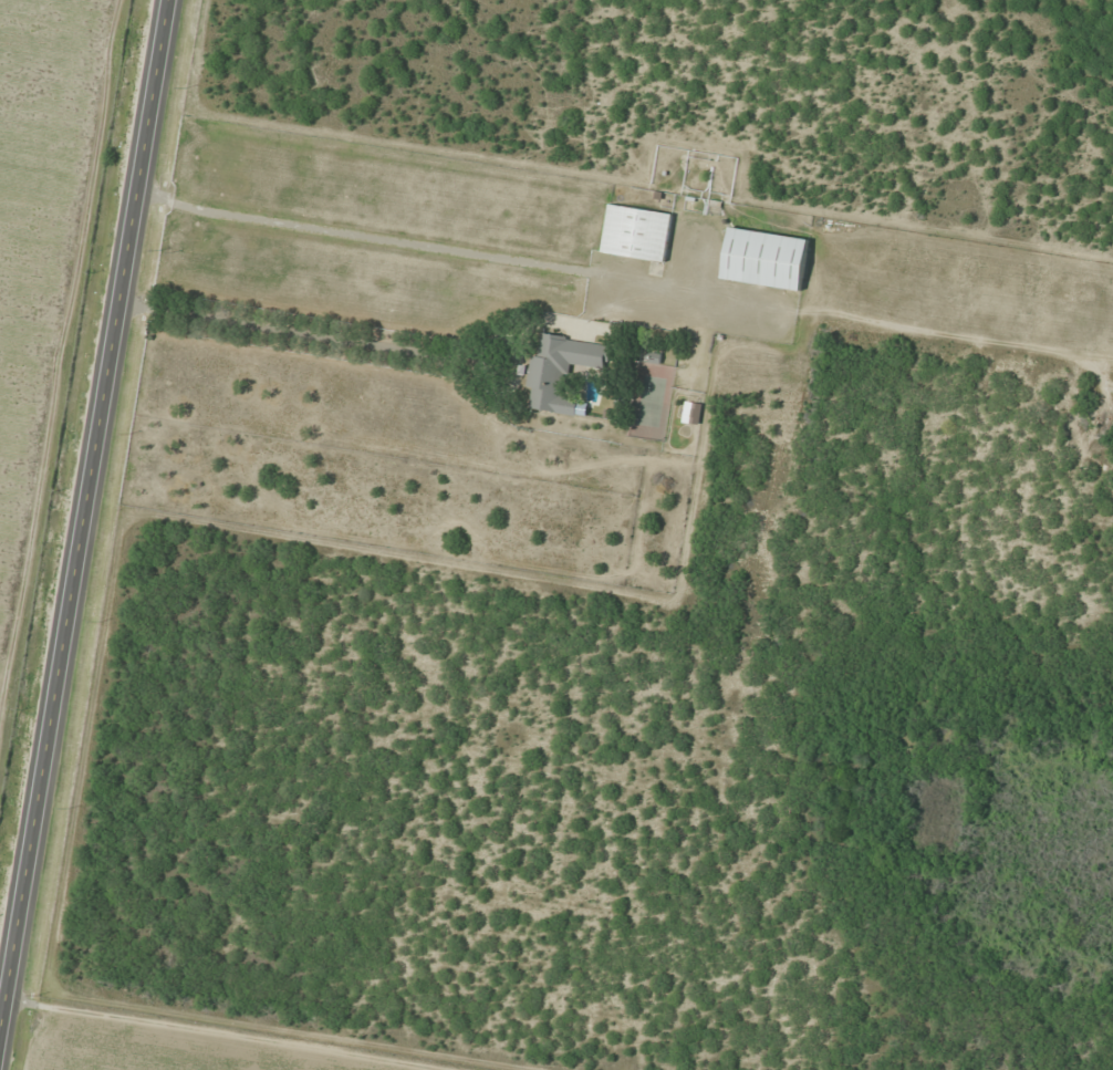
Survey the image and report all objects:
building: (635, 233)
building: (764, 259)
building: (560, 371)
road: (83, 510)
wastewater plant: (938, 806)
road: (240, 1031)

